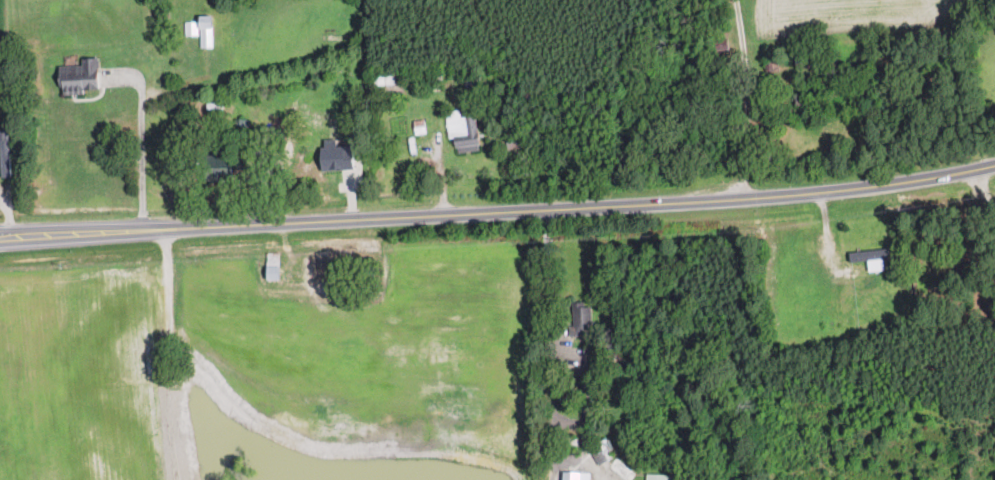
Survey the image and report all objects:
building: (204, 31)
building: (78, 75)
building: (382, 77)
road: (746, 99)
building: (461, 131)
road: (142, 138)
building: (333, 156)
building: (216, 166)
road: (498, 212)
building: (868, 257)
building: (271, 264)
building: (317, 268)
building: (581, 318)
road: (567, 346)
road: (168, 355)
building: (573, 475)
building: (658, 476)

